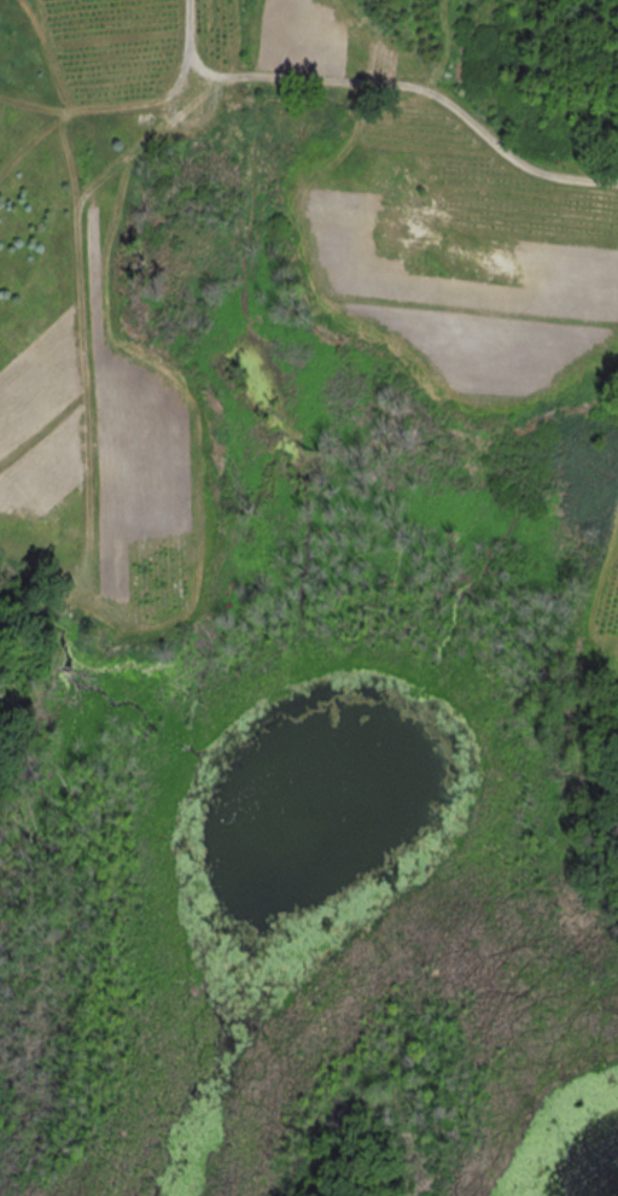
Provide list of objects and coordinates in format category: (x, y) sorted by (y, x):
road: (387, 84)
building: (148, 117)
park: (310, 895)

